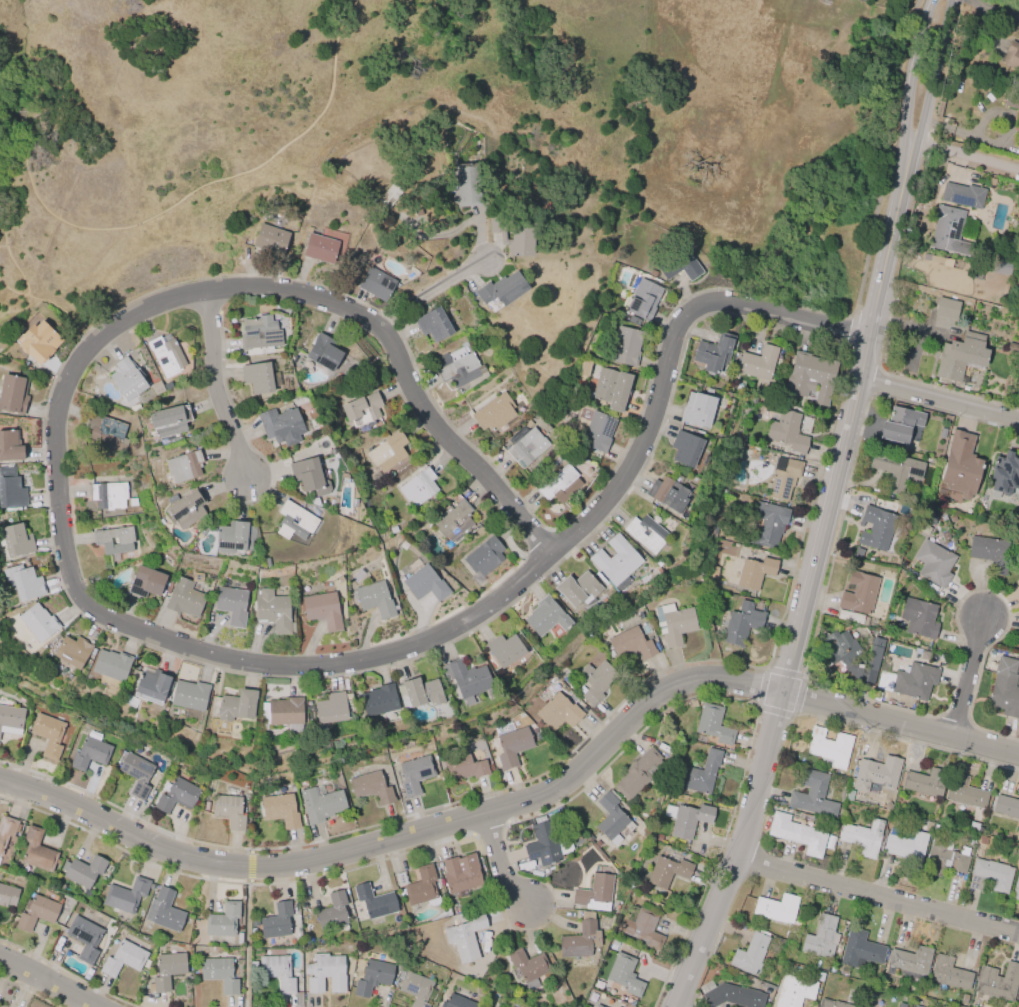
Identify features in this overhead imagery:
road: (983, 12)
building: (1012, 56)
building: (1011, 97)
building: (1017, 143)
road: (965, 154)
park: (722, 178)
building: (467, 184)
building: (389, 195)
building: (962, 195)
road: (131, 225)
building: (949, 231)
building: (514, 233)
building: (270, 239)
building: (320, 249)
building: (680, 266)
building: (995, 266)
building: (375, 284)
building: (501, 289)
building: (1016, 290)
road: (429, 293)
building: (643, 300)
road: (327, 304)
building: (946, 308)
building: (432, 325)
building: (260, 335)
building: (37, 341)
road: (864, 346)
building: (627, 347)
building: (1012, 347)
building: (323, 352)
building: (165, 355)
building: (713, 355)
building: (960, 356)
building: (758, 363)
building: (459, 369)
building: (811, 376)
building: (257, 377)
building: (126, 378)
building: (1018, 380)
road: (210, 385)
building: (156, 387)
building: (1018, 387)
building: (612, 389)
building: (12, 393)
road: (939, 397)
building: (362, 409)
building: (698, 410)
building: (493, 414)
building: (166, 424)
building: (900, 424)
building: (278, 428)
building: (104, 430)
building: (787, 431)
building: (598, 432)
building: (941, 432)
building: (10, 446)
building: (527, 448)
building: (685, 449)
building: (388, 453)
building: (960, 465)
building: (183, 467)
building: (896, 469)
building: (306, 472)
building: (1005, 472)
building: (784, 479)
building: (561, 484)
building: (419, 488)
building: (11, 493)
building: (668, 494)
building: (108, 496)
building: (186, 510)
building: (456, 519)
building: (929, 519)
building: (295, 523)
building: (767, 525)
building: (875, 527)
building: (645, 532)
building: (233, 537)
building: (115, 540)
building: (16, 541)
building: (403, 545)
building: (990, 553)
building: (483, 558)
building: (615, 562)
building: (934, 563)
building: (756, 570)
building: (146, 582)
building: (24, 584)
building: (425, 584)
building: (578, 589)
building: (858, 593)
building: (184, 598)
building: (375, 599)
building: (231, 605)
building: (272, 610)
building: (321, 610)
building: (849, 617)
building: (546, 618)
building: (920, 619)
building: (37, 622)
road: (462, 622)
building: (743, 622)
building: (675, 625)
building: (631, 644)
building: (71, 651)
building: (503, 651)
building: (838, 657)
building: (110, 665)
road: (966, 676)
building: (465, 679)
building: (908, 681)
building: (596, 682)
building: (150, 684)
building: (1005, 688)
building: (418, 694)
building: (188, 695)
building: (377, 701)
building: (236, 707)
building: (329, 709)
building: (283, 712)
building: (558, 713)
building: (10, 720)
road: (901, 723)
building: (712, 725)
building: (49, 735)
building: (512, 747)
building: (830, 747)
building: (89, 754)
building: (466, 767)
building: (137, 774)
building: (639, 774)
building: (703, 774)
building: (415, 775)
building: (872, 775)
building: (925, 782)
building: (373, 787)
building: (965, 792)
building: (177, 795)
building: (812, 795)
building: (322, 804)
building: (1006, 807)
building: (281, 810)
building: (229, 811)
building: (611, 817)
building: (689, 821)
building: (972, 831)
road: (405, 833)
building: (6, 834)
building: (796, 834)
building: (863, 837)
building: (982, 840)
building: (543, 845)
building: (905, 846)
building: (36, 851)
road: (739, 853)
building: (944, 857)
road: (501, 864)
building: (668, 870)
building: (85, 872)
building: (461, 873)
building: (990, 875)
building: (422, 887)
building: (1015, 888)
road: (879, 892)
building: (595, 893)
building: (8, 896)
building: (126, 896)
building: (375, 903)
building: (776, 908)
building: (165, 911)
building: (37, 912)
building: (334, 912)
building: (224, 922)
building: (278, 922)
building: (642, 927)
building: (821, 937)
building: (86, 938)
road: (248, 938)
building: (466, 938)
building: (580, 941)
building: (860, 950)
building: (750, 954)
building: (123, 959)
building: (909, 961)
building: (528, 966)
building: (167, 970)
building: (278, 972)
building: (948, 973)
building: (220, 974)
building: (327, 975)
building: (625, 976)
building: (372, 978)
road: (48, 981)
building: (997, 981)
building: (418, 989)
building: (793, 991)
building: (730, 995)
building: (458, 999)
building: (963, 999)
building: (1018, 1000)
building: (833, 1003)
building: (598, 1006)
building: (913, 1006)

